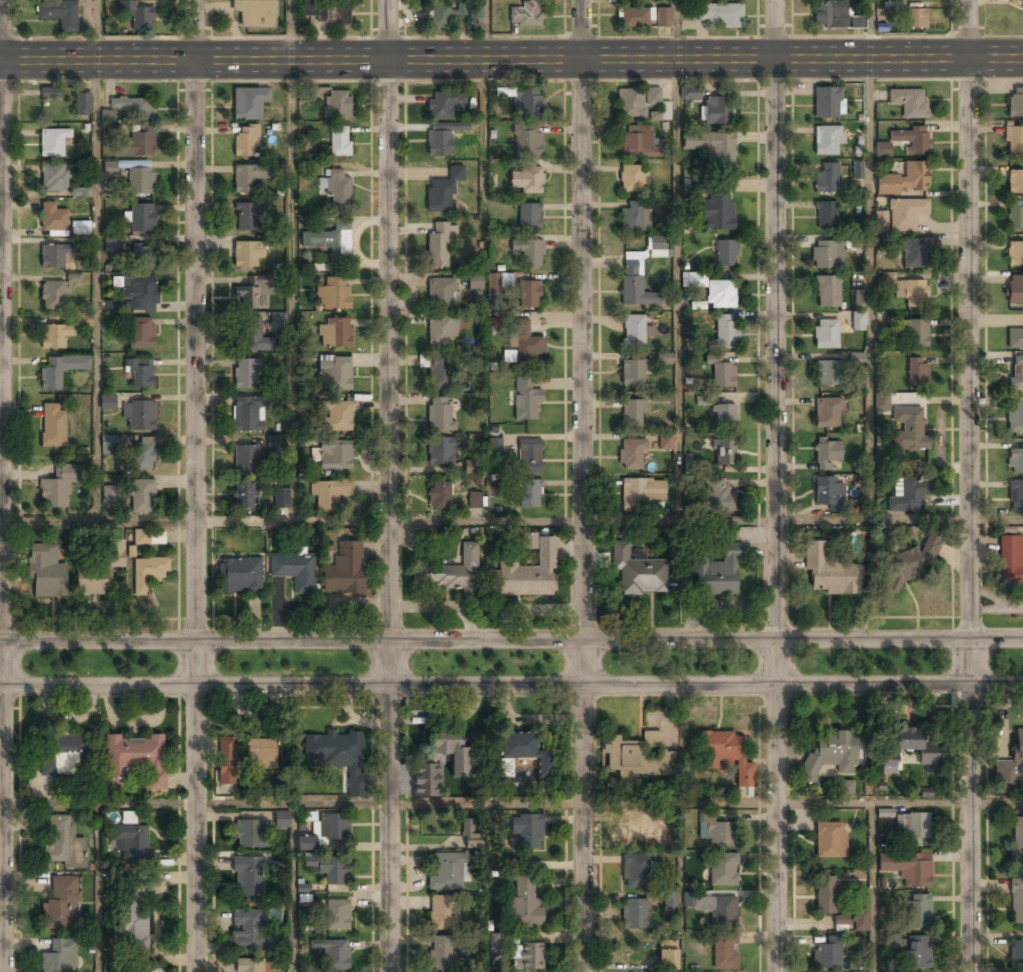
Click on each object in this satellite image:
building: (58, 13)
building: (256, 13)
building: (325, 13)
building: (525, 13)
building: (461, 14)
building: (715, 14)
building: (139, 15)
building: (830, 15)
building: (440, 16)
building: (634, 17)
building: (662, 17)
building: (916, 18)
road: (485, 29)
road: (675, 29)
road: (96, 30)
road: (288, 30)
road: (870, 30)
road: (511, 58)
building: (690, 92)
building: (49, 93)
building: (526, 101)
building: (826, 101)
building: (249, 102)
building: (636, 102)
building: (908, 102)
building: (1015, 102)
building: (444, 103)
building: (82, 104)
building: (337, 104)
building: (134, 107)
building: (717, 111)
building: (660, 113)
building: (107, 117)
building: (443, 136)
road: (484, 138)
building: (827, 138)
building: (911, 138)
building: (1013, 140)
building: (139, 141)
building: (246, 141)
building: (527, 141)
building: (53, 142)
building: (340, 142)
building: (638, 142)
building: (712, 148)
building: (882, 150)
building: (110, 168)
building: (857, 170)
building: (247, 176)
building: (53, 178)
building: (826, 178)
building: (526, 179)
building: (632, 179)
building: (904, 179)
building: (140, 181)
building: (1015, 181)
building: (443, 190)
building: (339, 191)
building: (81, 192)
building: (717, 213)
building: (826, 214)
building: (905, 214)
building: (1015, 214)
building: (529, 215)
building: (245, 216)
building: (52, 217)
building: (632, 218)
building: (881, 218)
building: (141, 219)
building: (80, 228)
building: (331, 240)
building: (856, 241)
building: (111, 243)
building: (438, 245)
building: (657, 246)
building: (529, 252)
building: (914, 253)
building: (725, 254)
building: (827, 254)
building: (1015, 254)
building: (247, 255)
building: (53, 256)
building: (140, 256)
building: (74, 278)
building: (694, 279)
building: (475, 281)
building: (498, 282)
building: (634, 285)
road: (95, 290)
road: (291, 290)
road: (677, 290)
road: (870, 290)
building: (1015, 290)
building: (827, 291)
building: (910, 291)
building: (253, 292)
building: (715, 292)
building: (441, 293)
building: (333, 294)
building: (529, 294)
building: (52, 295)
building: (139, 295)
building: (858, 300)
building: (84, 320)
building: (858, 321)
building: (276, 322)
building: (442, 331)
building: (726, 331)
building: (141, 332)
building: (633, 332)
building: (333, 333)
building: (915, 333)
building: (825, 334)
building: (53, 336)
building: (252, 337)
building: (1015, 339)
building: (524, 341)
building: (509, 356)
building: (664, 358)
building: (856, 358)
building: (917, 370)
building: (721, 371)
building: (140, 372)
building: (441, 372)
building: (246, 373)
building: (632, 373)
building: (828, 373)
building: (1016, 373)
building: (334, 374)
building: (52, 375)
building: (525, 399)
building: (702, 400)
building: (106, 402)
building: (881, 403)
building: (827, 412)
building: (248, 414)
building: (439, 414)
building: (632, 414)
building: (139, 415)
building: (336, 416)
building: (723, 416)
building: (1015, 417)
building: (53, 425)
building: (908, 429)
building: (275, 442)
building: (665, 442)
building: (109, 443)
building: (495, 447)
building: (441, 450)
building: (142, 453)
building: (723, 453)
building: (826, 453)
building: (529, 454)
building: (631, 454)
building: (335, 456)
building: (246, 458)
building: (1016, 460)
building: (689, 466)
building: (474, 467)
road: (196, 485)
road: (390, 485)
road: (2, 486)
building: (56, 486)
road: (583, 486)
road: (777, 486)
road: (970, 486)
building: (529, 492)
building: (641, 492)
building: (715, 493)
building: (828, 493)
building: (109, 494)
building: (329, 494)
building: (907, 494)
building: (142, 495)
building: (439, 495)
building: (1016, 496)
building: (245, 497)
building: (281, 499)
building: (475, 500)
road: (511, 520)
building: (149, 537)
building: (529, 540)
building: (1010, 562)
building: (910, 564)
building: (149, 570)
building: (344, 570)
building: (638, 570)
building: (100, 571)
building: (295, 571)
building: (450, 572)
building: (719, 572)
building: (530, 573)
building: (46, 574)
building: (829, 574)
building: (239, 575)
building: (493, 579)
road: (511, 641)
road: (511, 685)
building: (909, 746)
building: (1018, 746)
building: (525, 750)
building: (452, 751)
building: (62, 753)
building: (261, 753)
building: (339, 755)
building: (830, 755)
building: (637, 757)
building: (728, 757)
building: (134, 759)
building: (226, 761)
building: (889, 763)
building: (506, 768)
building: (427, 779)
building: (845, 787)
road: (996, 800)
road: (484, 803)
building: (884, 813)
building: (128, 817)
building: (282, 820)
building: (911, 827)
building: (635, 829)
building: (713, 830)
building: (325, 831)
building: (526, 831)
building: (469, 833)
building: (252, 835)
building: (1016, 838)
building: (828, 840)
building: (63, 841)
building: (131, 841)
building: (906, 867)
building: (328, 869)
building: (720, 869)
building: (635, 870)
building: (447, 872)
building: (248, 879)
building: (880, 883)
road: (292, 887)
road: (490, 887)
road: (680, 887)
road: (871, 887)
road: (95, 888)
building: (824, 895)
building: (1016, 898)
building: (668, 900)
building: (524, 902)
building: (61, 904)
building: (711, 908)
building: (441, 912)
building: (917, 912)
building: (633, 913)
building: (337, 915)
building: (132, 920)
building: (839, 920)
building: (859, 920)
building: (839, 928)
building: (248, 932)
building: (496, 940)
building: (891, 940)
building: (441, 951)
building: (722, 951)
building: (915, 952)
building: (826, 953)
building: (335, 954)
building: (1016, 954)
building: (666, 955)
building: (59, 956)
building: (526, 957)
building: (249, 965)

